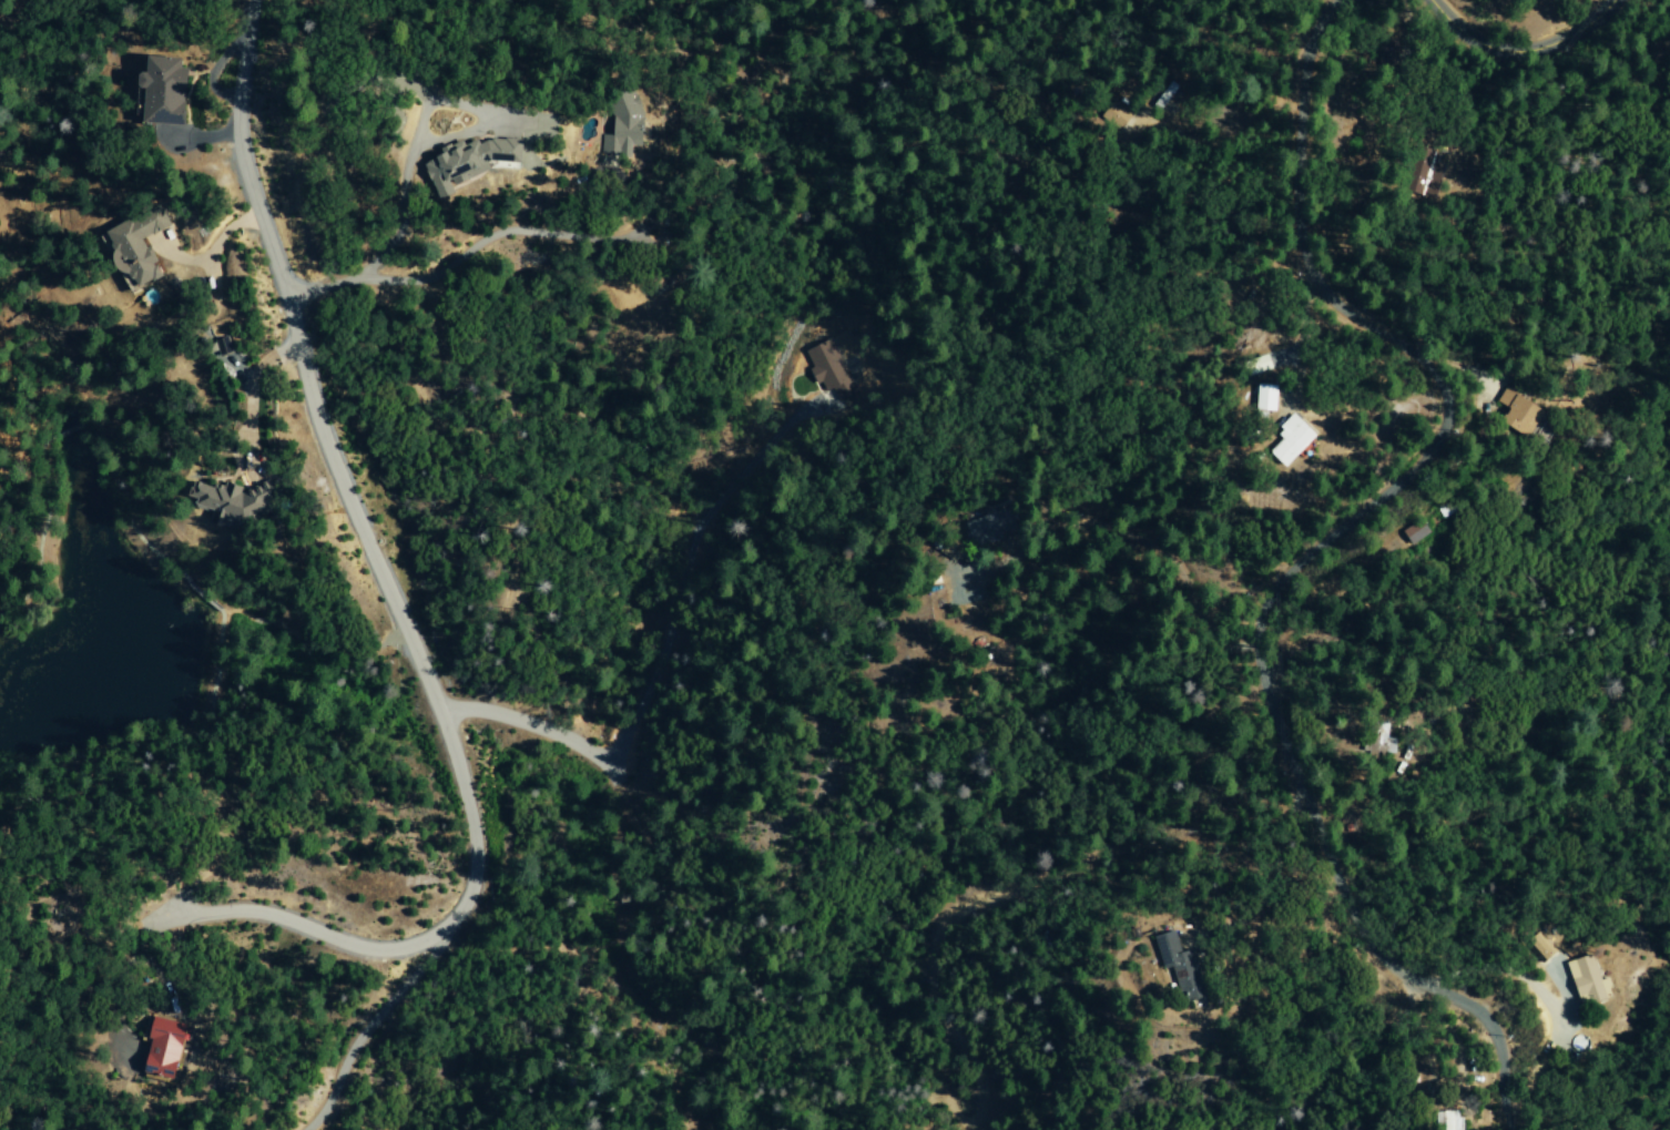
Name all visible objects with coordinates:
road: (1519, 53)
building: (161, 91)
building: (1114, 115)
building: (620, 125)
building: (460, 162)
building: (1423, 172)
road: (398, 211)
building: (135, 247)
building: (831, 363)
building: (1262, 398)
building: (1517, 411)
building: (1286, 440)
building: (225, 502)
building: (985, 528)
building: (1414, 532)
road: (1310, 558)
road: (385, 587)
road: (658, 654)
road: (279, 919)
building: (1540, 946)
building: (1586, 981)
building: (1577, 1044)
building: (159, 1047)
building: (1446, 1121)

